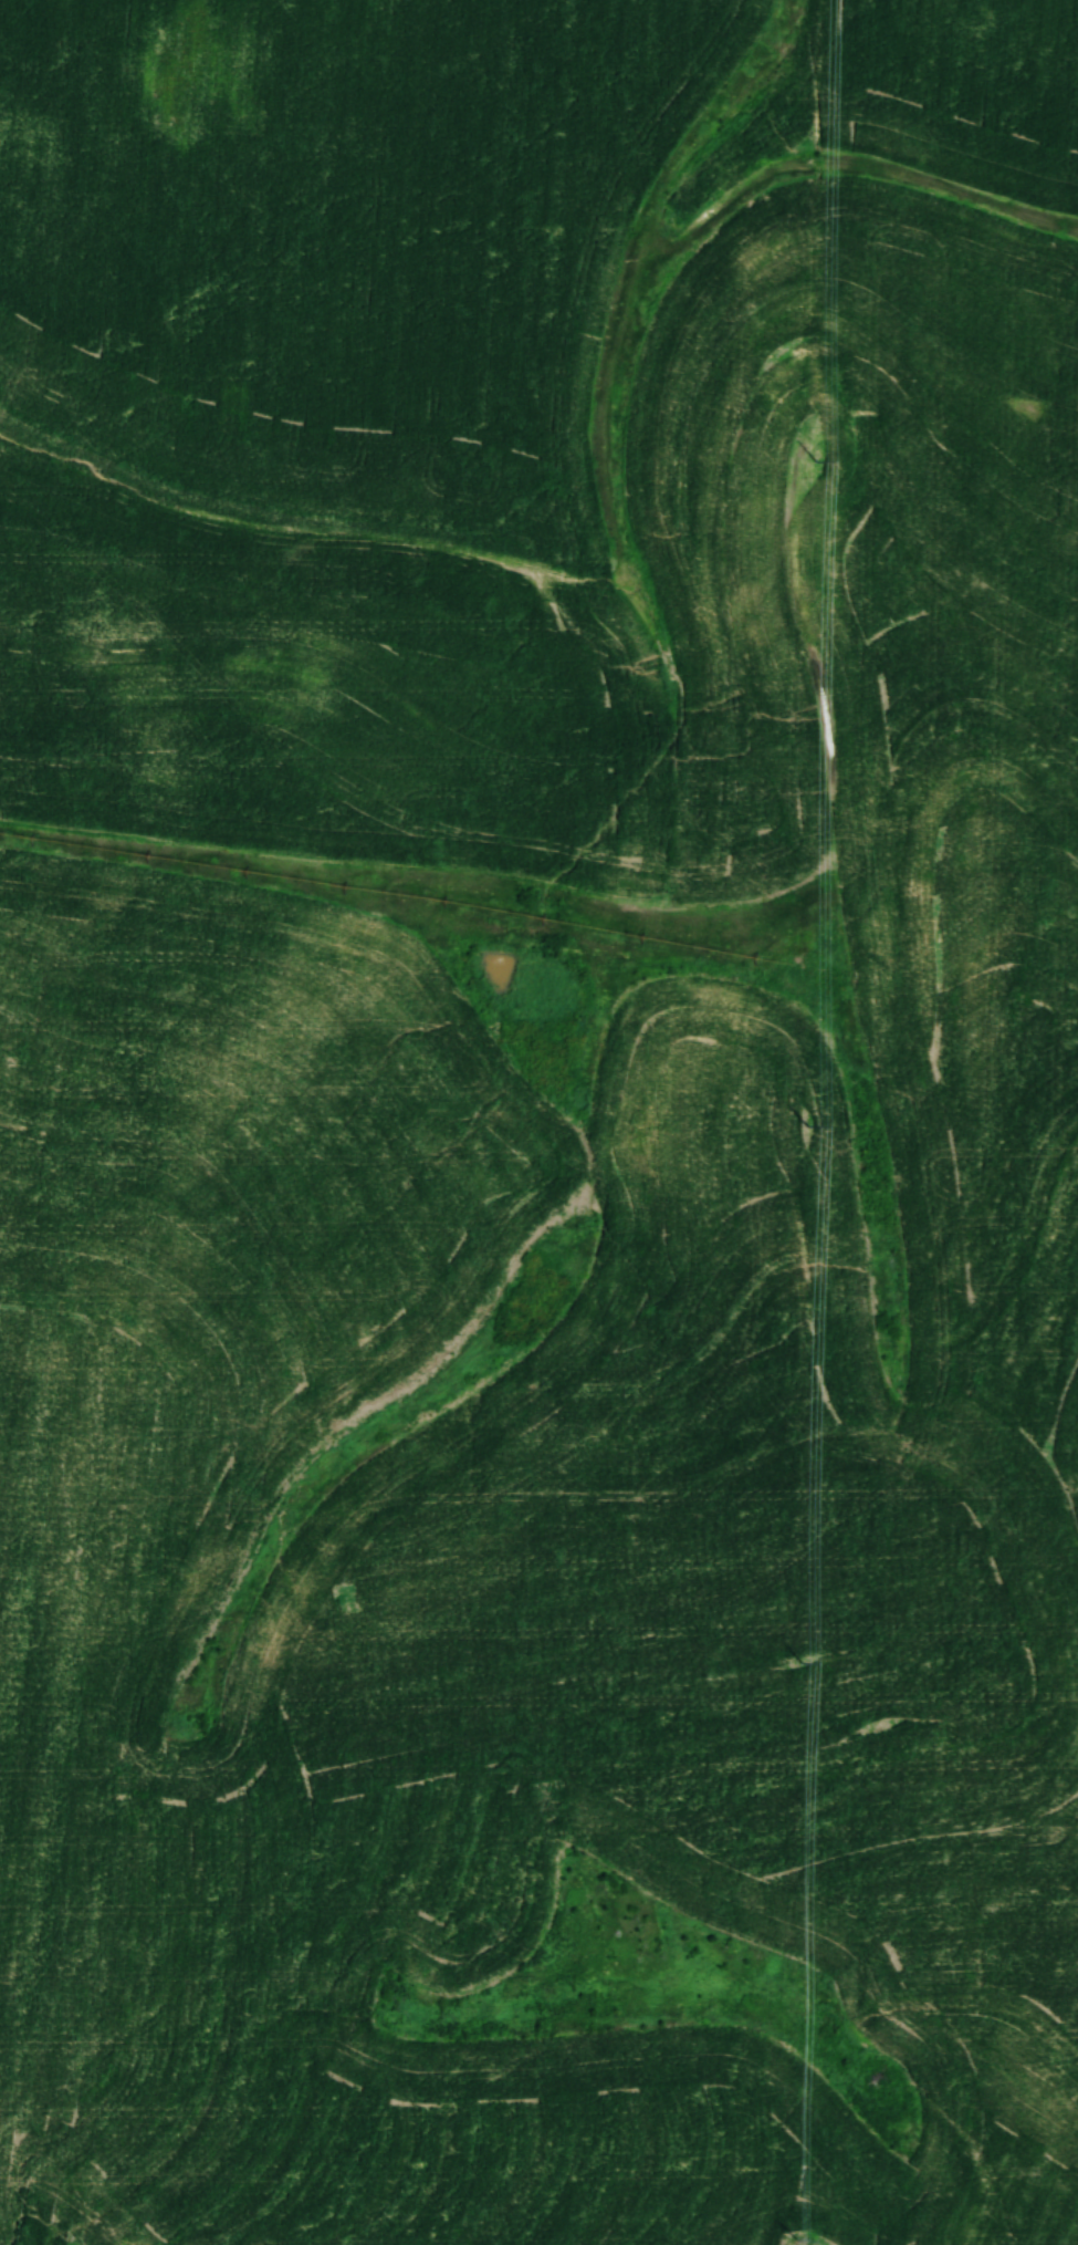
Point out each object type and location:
power tower: (815, 467)
power tower: (807, 1121)
power tower: (800, 1666)
power tower: (793, 2236)

